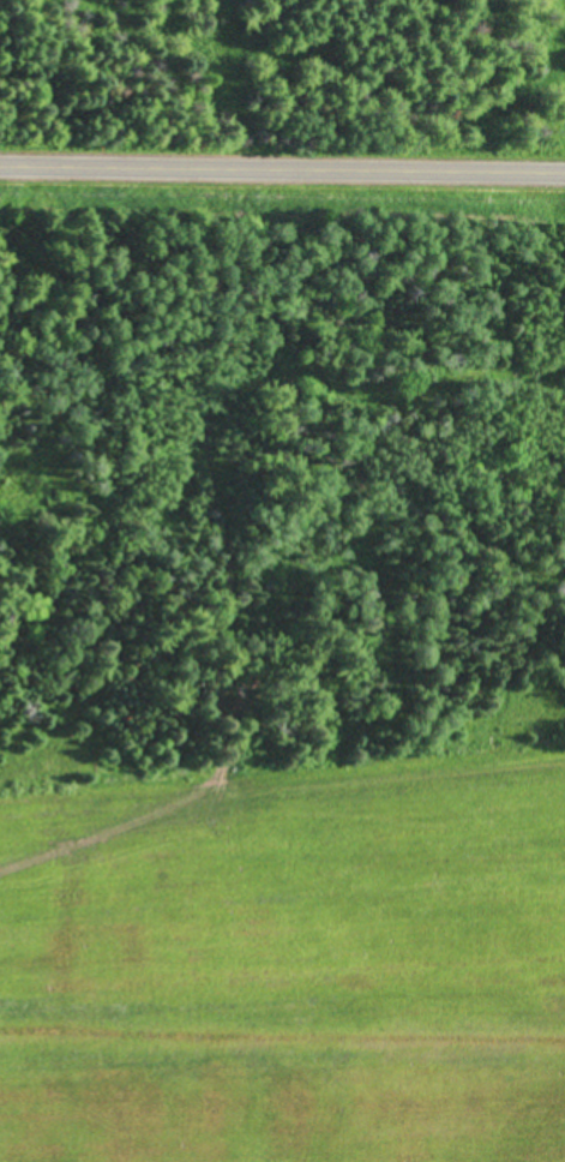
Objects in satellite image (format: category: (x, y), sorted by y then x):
road: (282, 172)
building: (543, 898)
building: (305, 1030)

